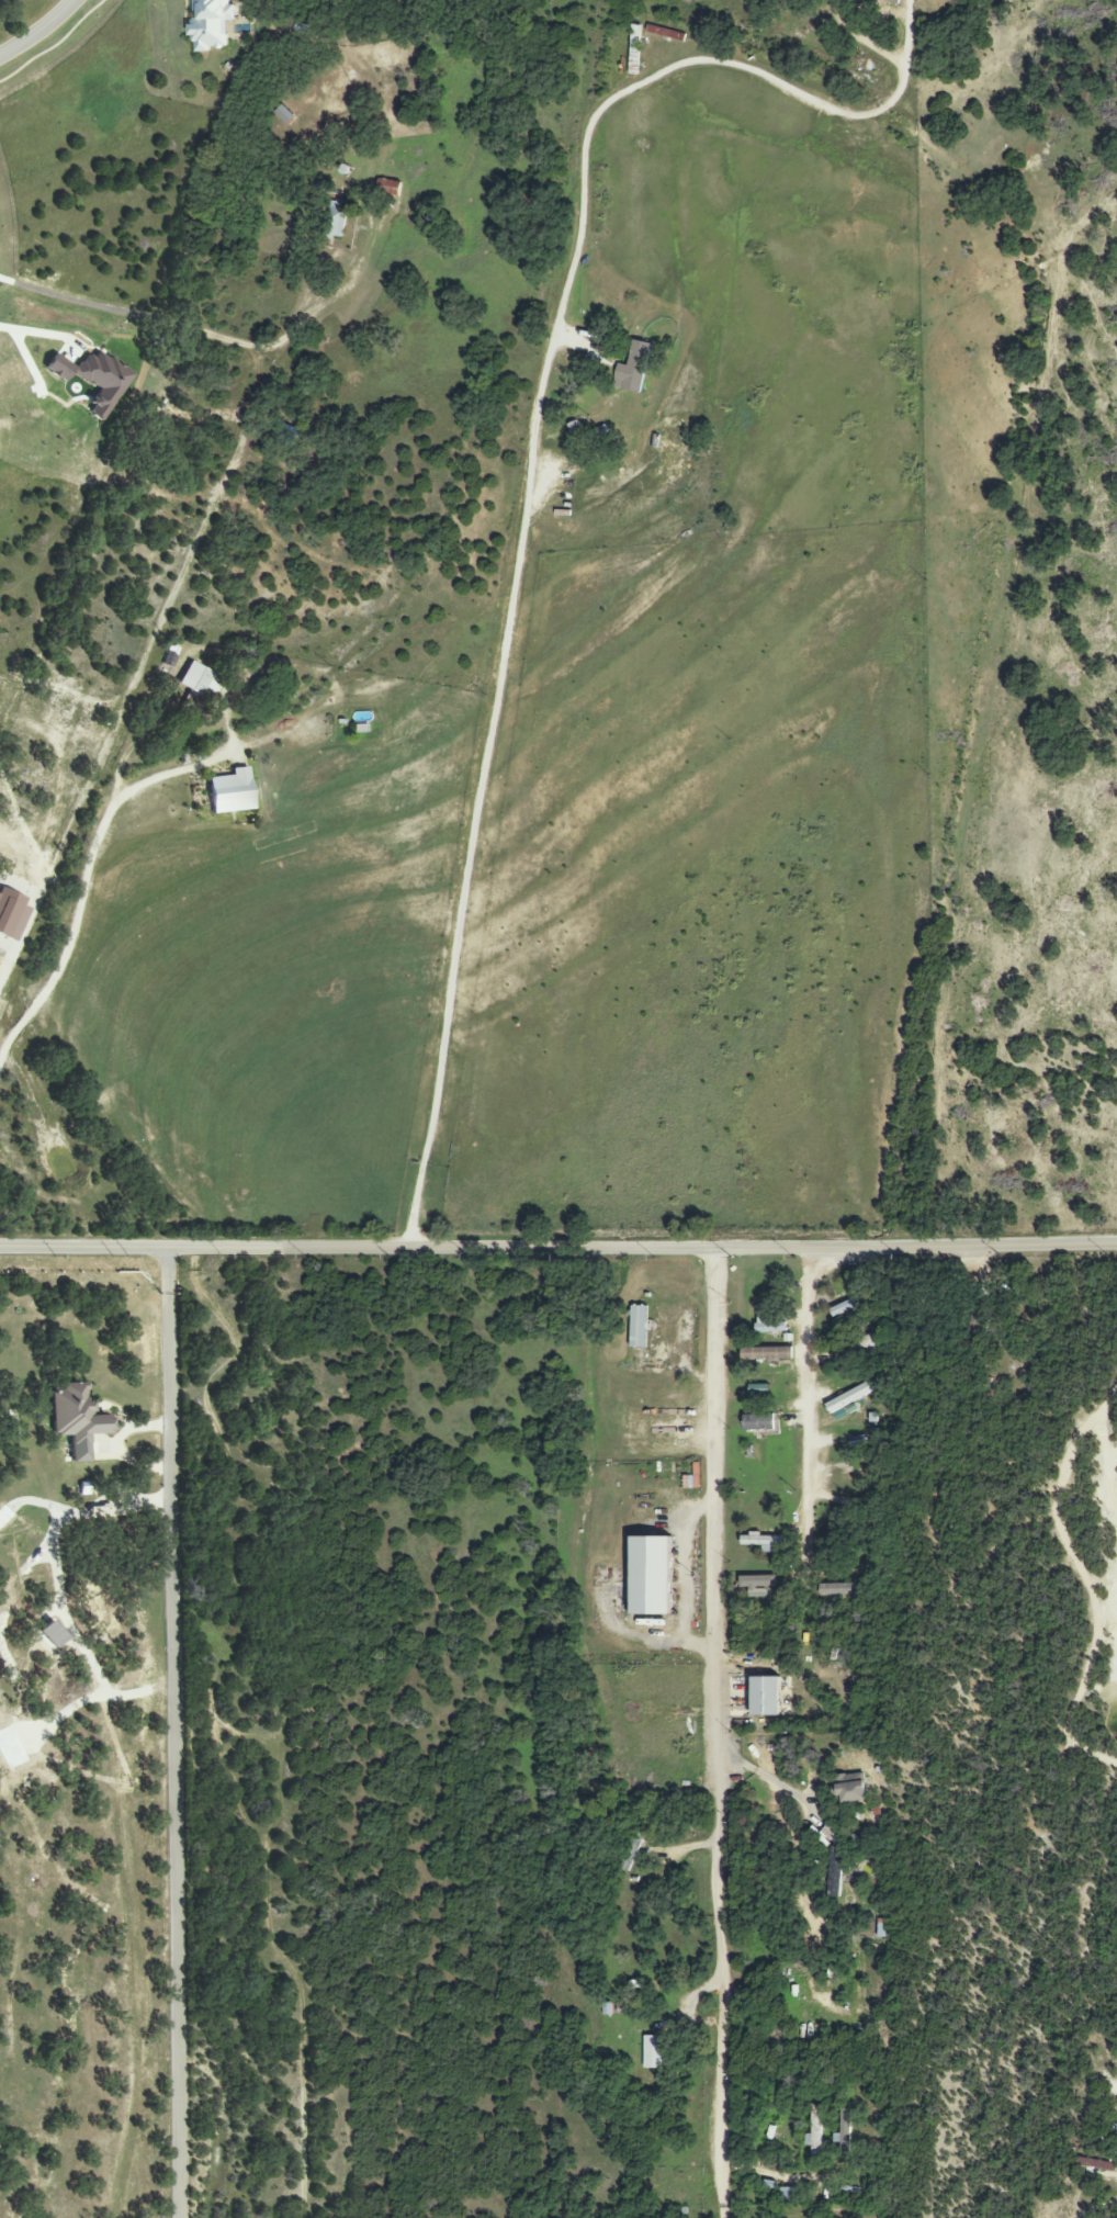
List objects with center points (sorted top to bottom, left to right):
building: (890, 1)
building: (211, 24)
road: (43, 33)
building: (284, 115)
building: (388, 187)
building: (335, 218)
road: (182, 327)
road: (26, 357)
building: (632, 365)
building: (578, 430)
road: (531, 441)
building: (198, 680)
building: (230, 791)
road: (86, 875)
road: (414, 1206)
road: (557, 1247)
road: (169, 1266)
building: (844, 1307)
building: (770, 1325)
building: (638, 1327)
building: (865, 1344)
building: (765, 1353)
building: (847, 1400)
road: (801, 1405)
building: (76, 1414)
building: (757, 1422)
road: (117, 1446)
building: (761, 1540)
building: (651, 1576)
building: (757, 1585)
building: (837, 1589)
building: (765, 1697)
road: (715, 1732)
road: (176, 1749)
road: (760, 1775)
building: (848, 1788)
building: (631, 1846)
building: (834, 1872)
building: (652, 2052)
building: (843, 2131)
building: (813, 2133)
building: (788, 2196)

